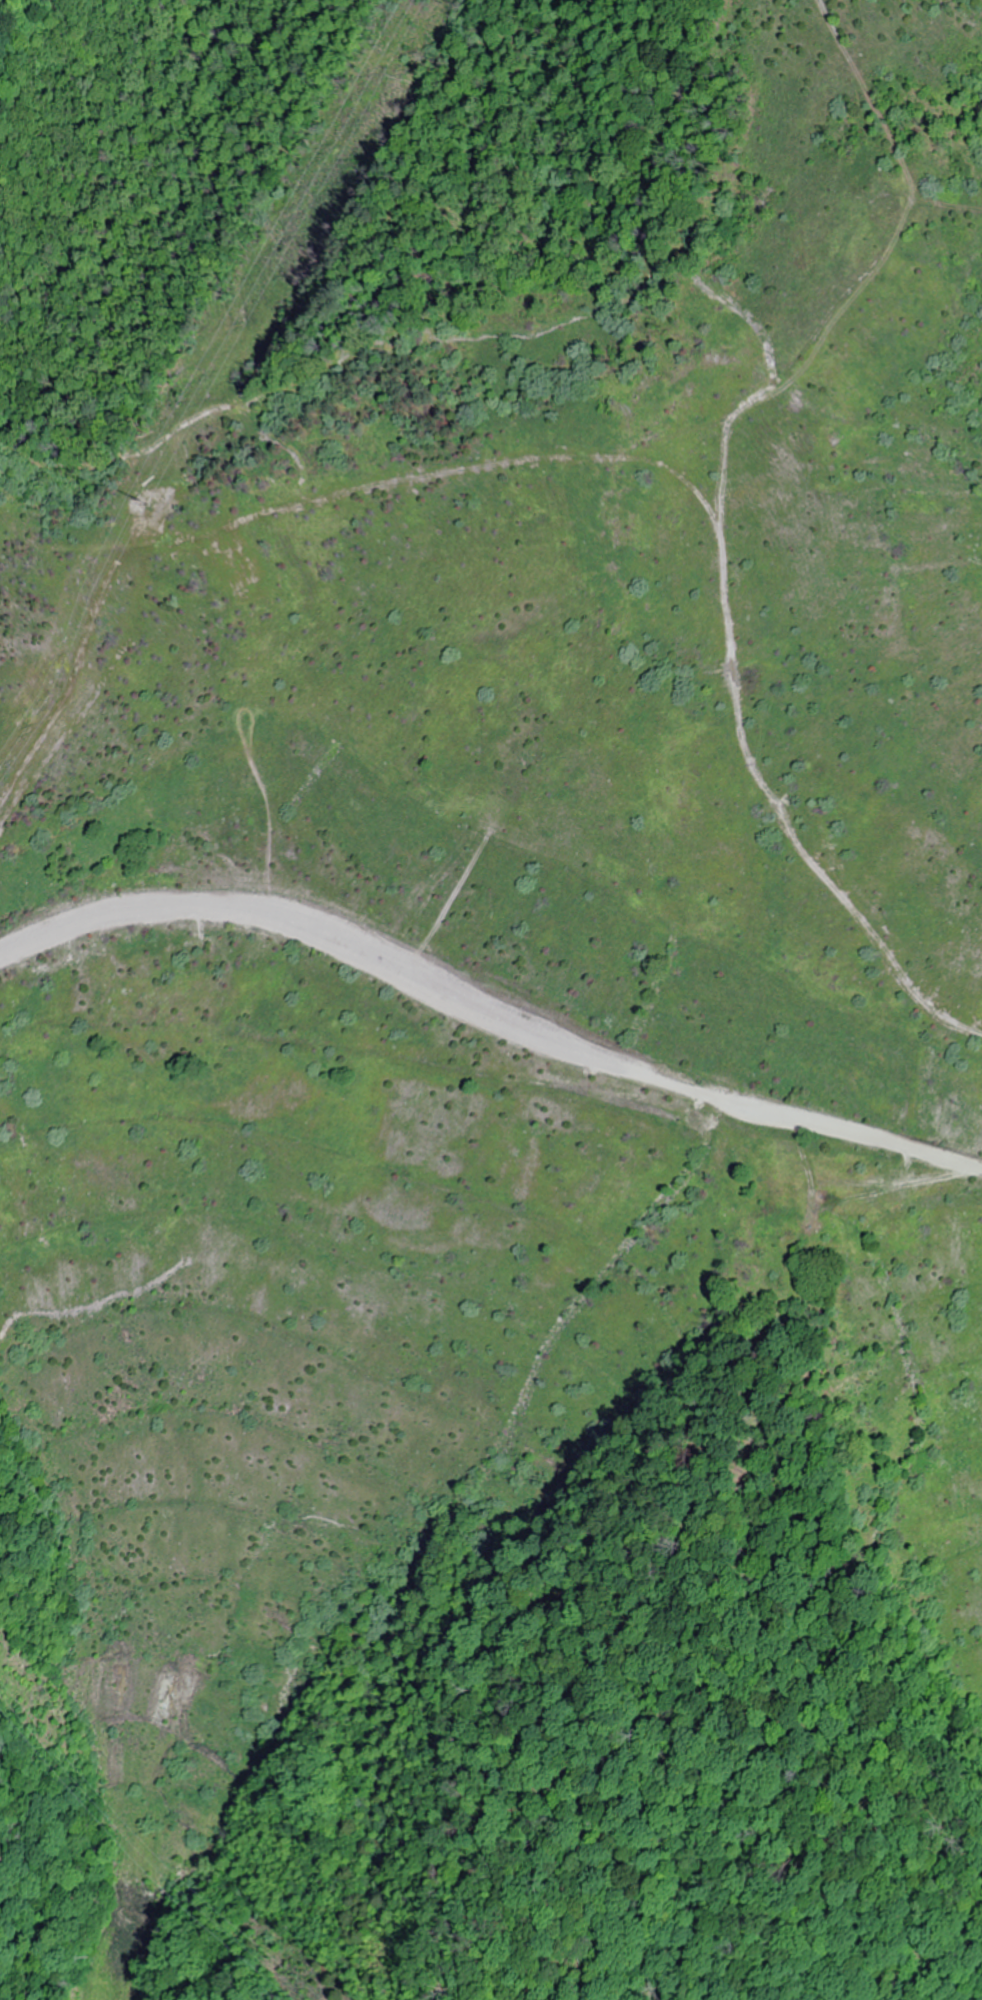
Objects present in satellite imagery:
power tower: (146, 501)
road: (492, 1012)

